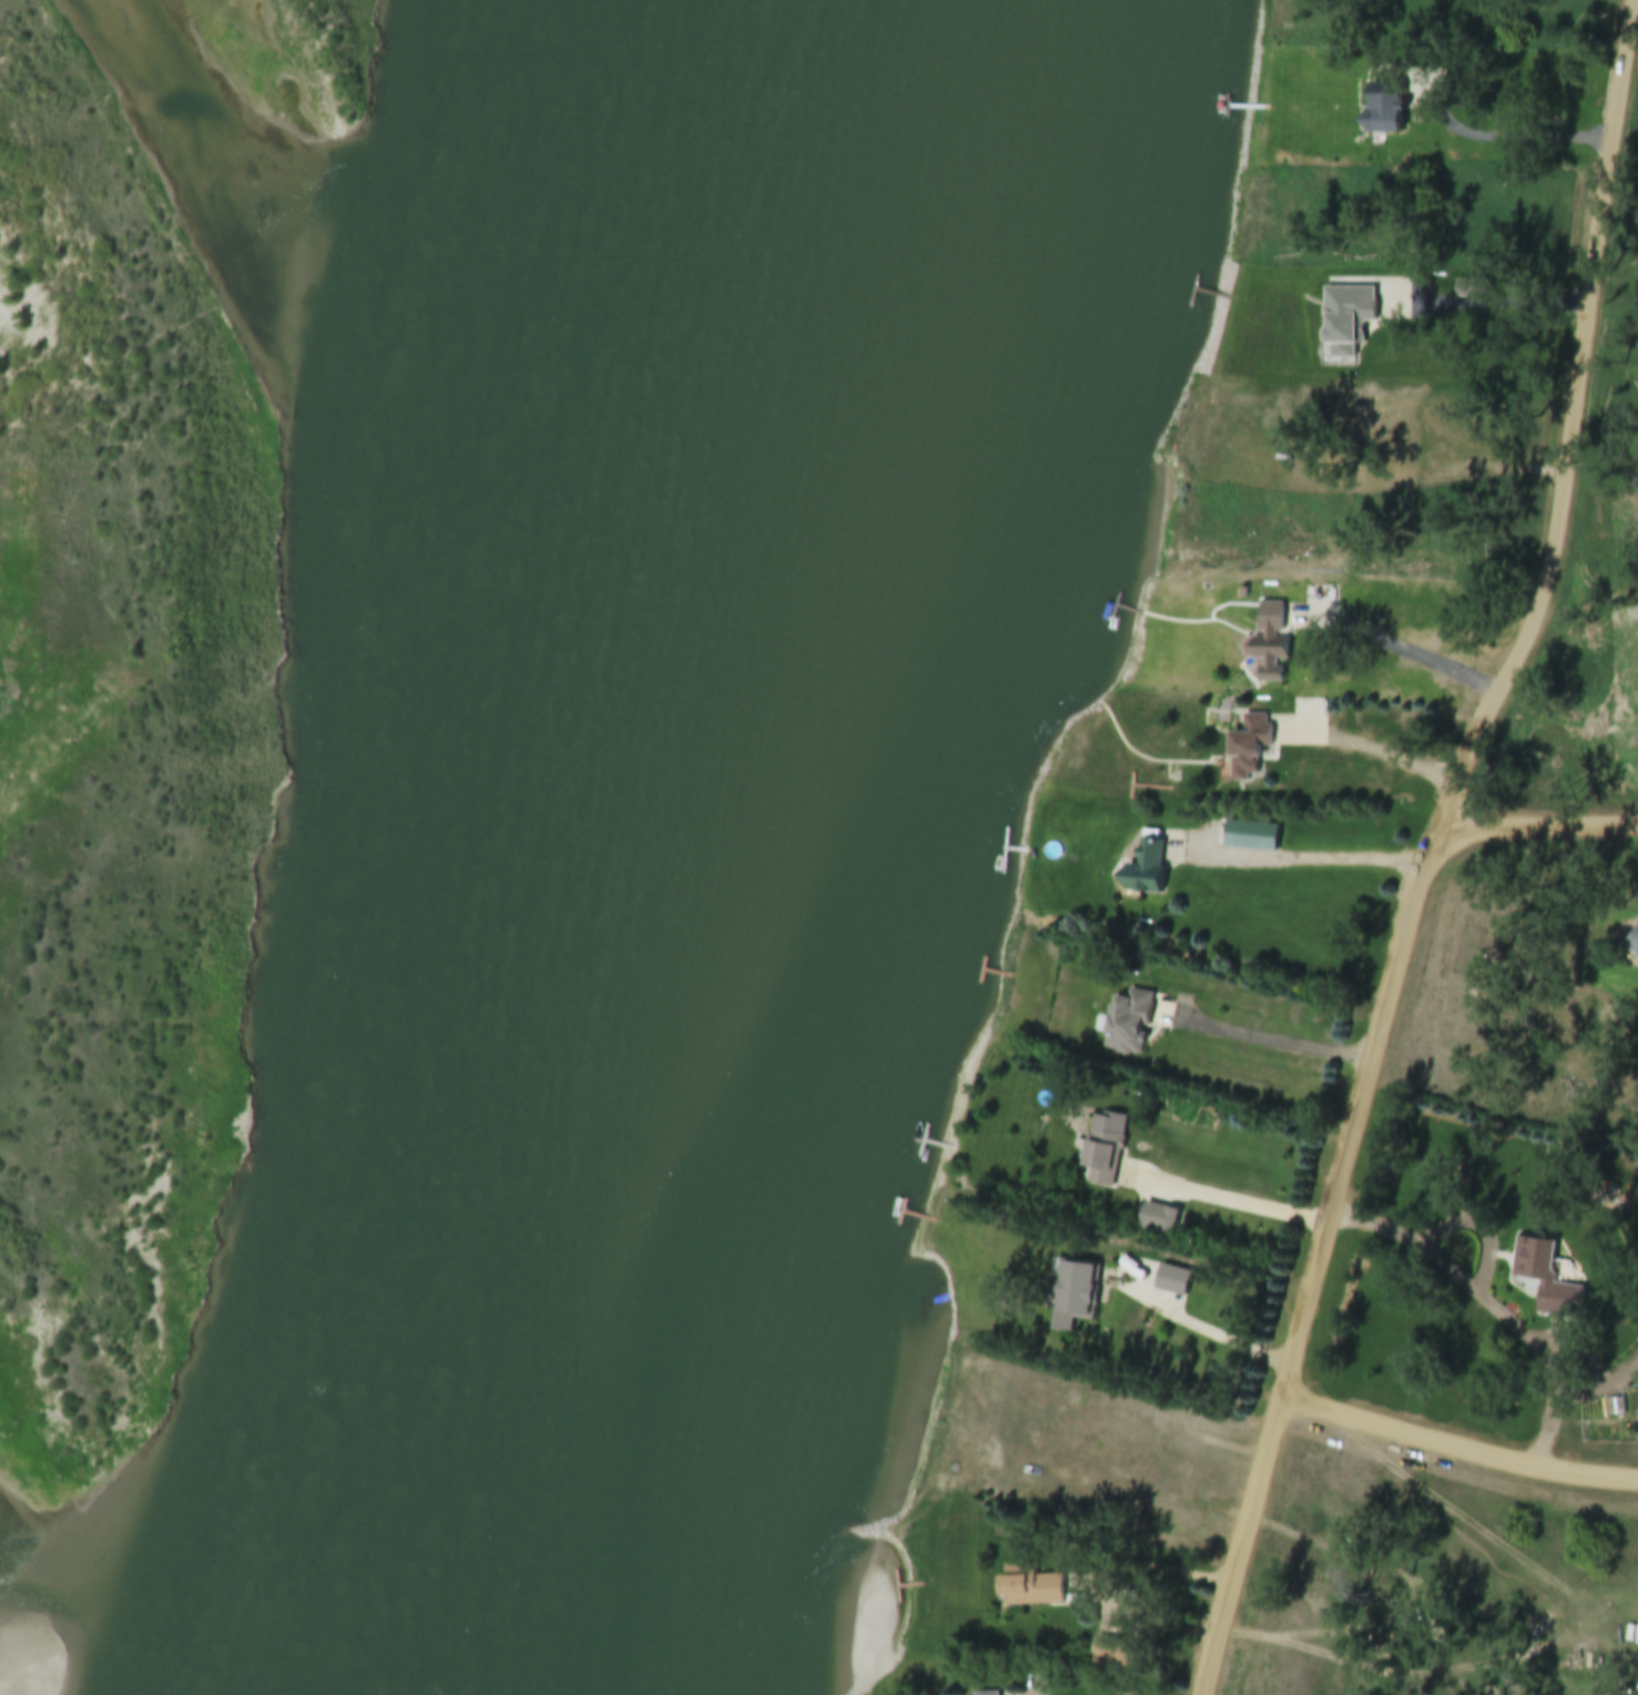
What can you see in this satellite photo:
building: (1390, 111)
road: (1503, 144)
building: (1476, 288)
building: (1347, 322)
building: (1266, 639)
road: (1413, 652)
building: (1245, 747)
road: (1381, 748)
road: (1539, 826)
river: (789, 844)
road: (1434, 847)
road: (1304, 856)
building: (1142, 871)
building: (1631, 943)
building: (1126, 1023)
road: (1262, 1035)
building: (1101, 1150)
road: (1228, 1200)
building: (1157, 1220)
building: (1545, 1280)
building: (1171, 1281)
building: (1071, 1297)
road: (1200, 1323)
road: (1458, 1443)
building: (1028, 1589)
building: (986, 1694)

